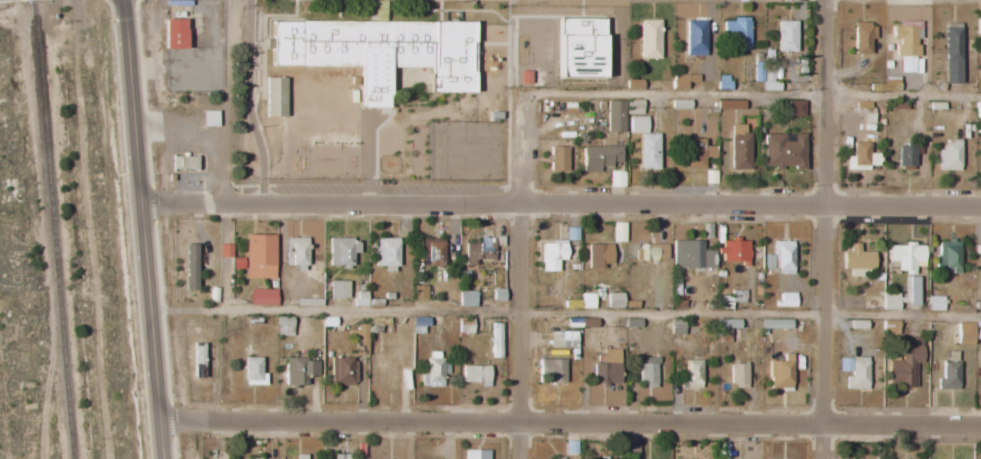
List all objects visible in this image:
building: (978, 26)
building: (737, 31)
building: (172, 34)
building: (786, 36)
building: (694, 37)
building: (863, 37)
building: (649, 38)
building: (906, 43)
building: (579, 46)
building: (379, 51)
building: (952, 53)
building: (523, 77)
building: (764, 77)
building: (683, 80)
building: (634, 84)
building: (274, 96)
building: (680, 104)
building: (730, 104)
building: (633, 107)
building: (795, 108)
building: (977, 109)
building: (865, 112)
building: (615, 116)
building: (208, 118)
building: (637, 124)
building: (739, 147)
building: (648, 151)
building: (783, 151)
building: (696, 153)
building: (906, 156)
building: (949, 156)
building: (598, 157)
building: (861, 157)
building: (558, 159)
building: (183, 163)
building: (617, 178)
road: (558, 200)
railway: (53, 229)
road: (139, 229)
road: (515, 229)
road: (821, 229)
building: (705, 230)
building: (618, 231)
building: (225, 250)
building: (479, 250)
building: (341, 251)
building: (652, 251)
building: (734, 251)
building: (296, 252)
building: (432, 252)
building: (386, 254)
building: (691, 254)
building: (552, 255)
building: (598, 255)
building: (258, 256)
building: (905, 256)
building: (948, 256)
building: (783, 257)
building: (857, 260)
building: (237, 263)
building: (189, 266)
building: (338, 289)
building: (911, 290)
building: (419, 292)
building: (498, 294)
building: (262, 297)
building: (360, 298)
building: (466, 299)
building: (731, 299)
building: (786, 299)
building: (614, 300)
building: (587, 301)
building: (890, 301)
building: (307, 302)
building: (935, 303)
building: (327, 321)
building: (588, 323)
building: (632, 323)
building: (775, 324)
building: (465, 325)
building: (283, 326)
building: (677, 326)
building: (890, 327)
building: (725, 328)
building: (977, 330)
building: (964, 333)
building: (360, 339)
building: (562, 339)
building: (609, 355)
building: (198, 360)
building: (905, 364)
building: (299, 371)
building: (343, 371)
building: (551, 371)
building: (647, 371)
building: (246, 372)
building: (435, 372)
building: (854, 372)
building: (606, 373)
building: (781, 373)
building: (693, 374)
building: (738, 374)
building: (475, 375)
building: (949, 375)
road: (569, 426)
building: (570, 447)
building: (476, 454)
building: (300, 456)
building: (342, 456)
building: (558, 458)

